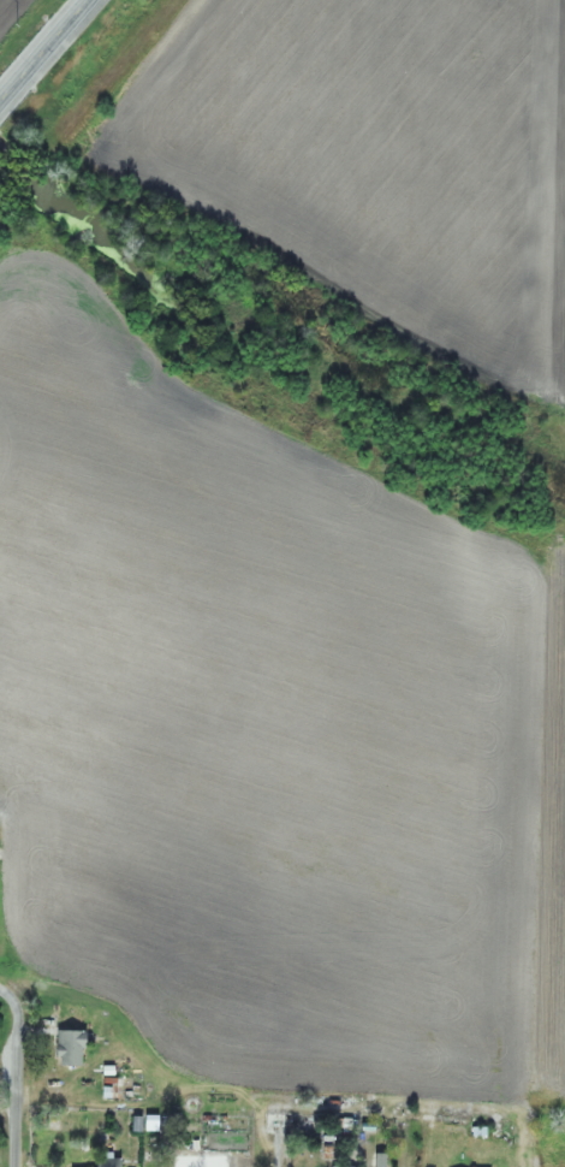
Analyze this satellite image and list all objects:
road: (44, 52)
railway: (93, 111)
road: (1, 991)
building: (67, 1048)
road: (13, 1078)
building: (105, 1162)

